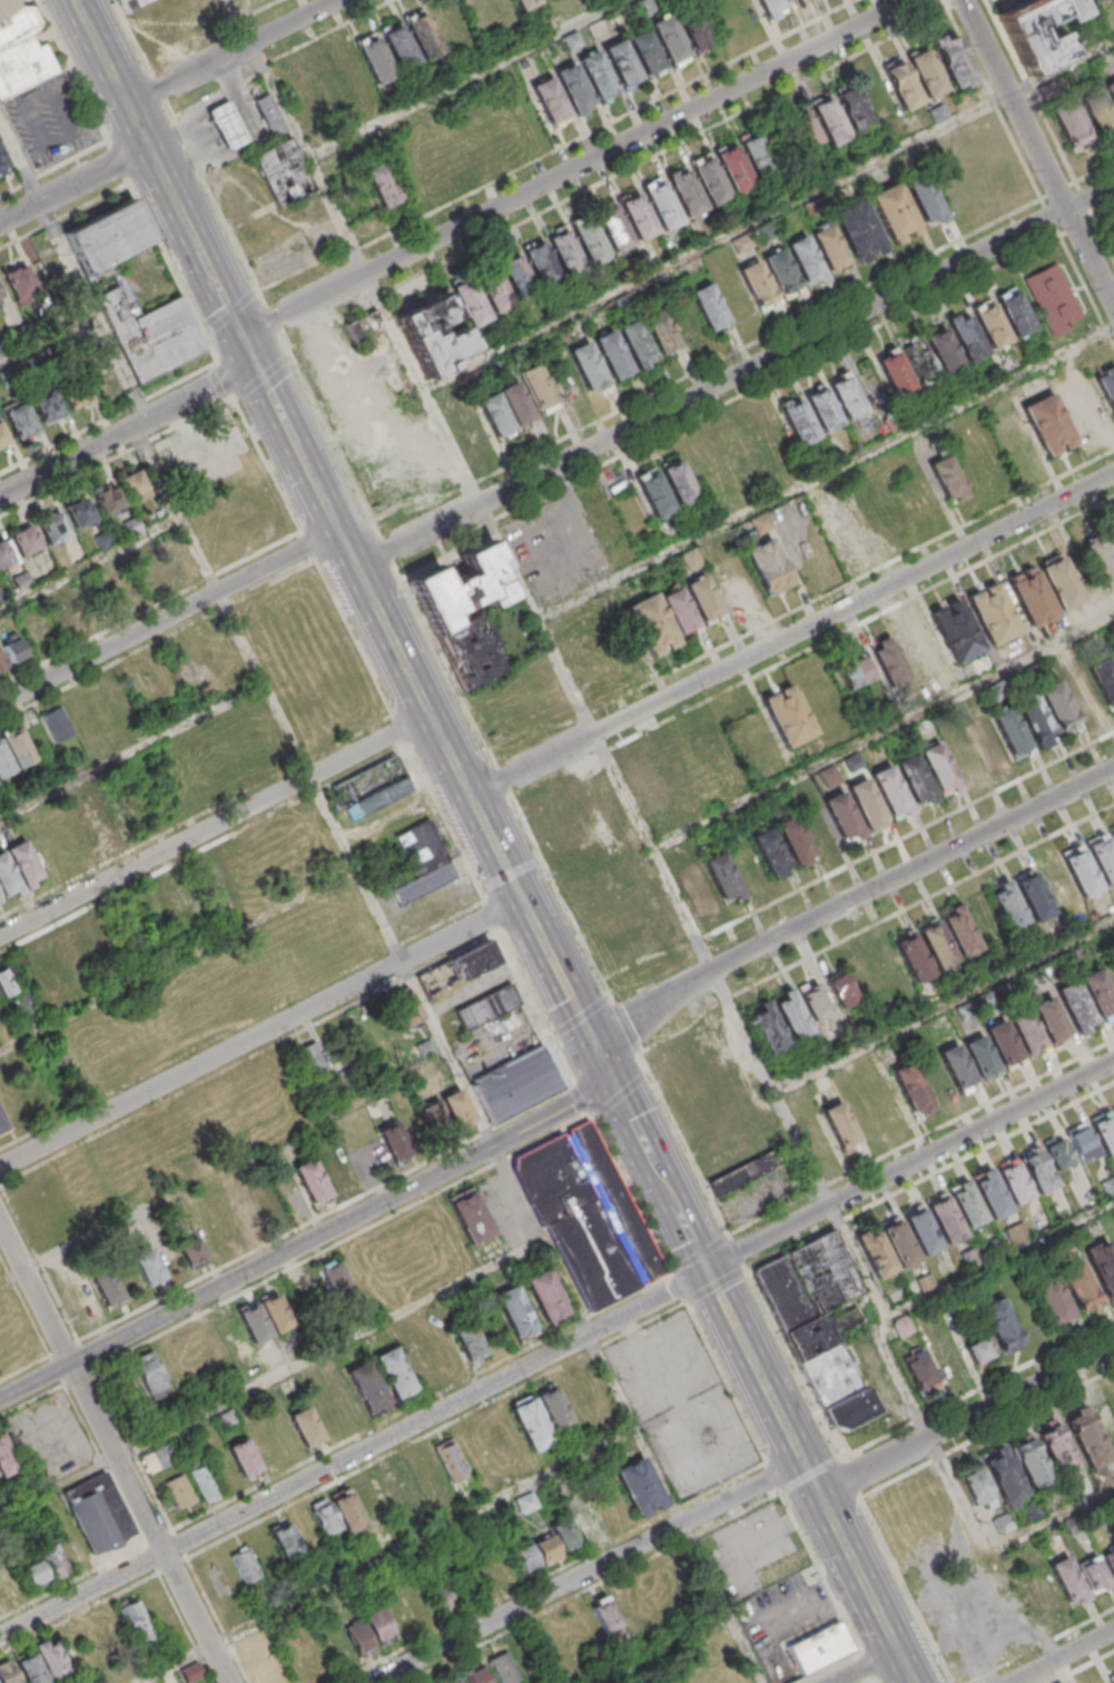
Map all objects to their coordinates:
building: (1095, 1)
building: (526, 4)
road: (946, 4)
road: (957, 4)
road: (258, 6)
building: (772, 8)
building: (1075, 9)
building: (497, 10)
road: (239, 14)
building: (167, 19)
road: (328, 30)
building: (696, 31)
building: (1034, 32)
road: (187, 36)
building: (424, 37)
road: (134, 38)
building: (670, 40)
building: (401, 49)
building: (21, 51)
road: (98, 51)
road: (226, 51)
building: (647, 55)
building: (375, 60)
building: (954, 61)
building: (622, 65)
road: (264, 66)
building: (927, 75)
building: (598, 76)
road: (707, 76)
road: (465, 77)
building: (326, 82)
building: (904, 87)
building: (574, 88)
road: (1032, 90)
building: (1110, 91)
road: (215, 93)
building: (551, 102)
building: (270, 116)
building: (831, 122)
building: (228, 126)
building: (1071, 126)
building: (806, 129)
road: (1038, 150)
road: (662, 152)
building: (759, 157)
building: (2, 165)
road: (55, 168)
road: (578, 168)
building: (736, 170)
building: (283, 171)
road: (1095, 173)
building: (711, 183)
building: (381, 184)
road: (72, 186)
building: (687, 194)
building: (927, 200)
building: (663, 208)
building: (896, 214)
road: (1104, 214)
road: (768, 216)
building: (638, 217)
road: (66, 218)
building: (613, 229)
building: (859, 230)
road: (1061, 237)
road: (1104, 238)
building: (590, 243)
building: (830, 248)
road: (355, 252)
building: (566, 254)
building: (807, 262)
road: (169, 264)
building: (541, 264)
road: (75, 270)
building: (517, 276)
building: (783, 276)
building: (20, 282)
building: (759, 287)
building: (493, 288)
road: (1086, 291)
building: (117, 292)
road: (851, 295)
building: (0, 296)
building: (1052, 297)
building: (469, 302)
building: (710, 309)
building: (1014, 312)
building: (990, 324)
building: (432, 334)
building: (21, 336)
building: (663, 336)
building: (966, 336)
road: (49, 342)
building: (638, 346)
building: (943, 348)
building: (2, 351)
building: (612, 355)
building: (918, 360)
building: (37, 365)
building: (588, 367)
building: (894, 372)
road: (735, 377)
building: (9, 378)
building: (1106, 384)
building: (538, 388)
building: (77, 394)
building: (846, 398)
road: (728, 403)
building: (46, 406)
building: (345, 409)
building: (505, 410)
building: (822, 410)
road: (108, 417)
building: (798, 422)
building: (20, 423)
building: (470, 426)
building: (1048, 426)
road: (128, 430)
building: (2, 439)
road: (117, 460)
road: (825, 473)
building: (947, 479)
building: (134, 485)
building: (666, 488)
building: (107, 500)
building: (79, 513)
building: (131, 524)
building: (761, 524)
building: (842, 526)
building: (52, 528)
building: (24, 541)
road: (308, 543)
building: (4, 552)
building: (1102, 561)
road: (89, 563)
road: (355, 567)
building: (769, 569)
building: (149, 577)
building: (730, 582)
building: (1061, 585)
building: (702, 599)
building: (1032, 601)
road: (220, 602)
building: (70, 613)
road: (168, 616)
building: (441, 616)
building: (992, 616)
building: (661, 621)
building: (955, 632)
road: (791, 634)
building: (13, 649)
building: (907, 653)
road: (443, 659)
building: (2, 663)
building: (854, 672)
building: (1104, 681)
building: (1083, 698)
building: (1058, 708)
building: (789, 718)
building: (1034, 720)
building: (57, 724)
road: (401, 727)
road: (883, 732)
building: (1011, 734)
building: (986, 744)
building: (18, 747)
road: (130, 749)
building: (714, 751)
building: (963, 756)
building: (4, 764)
building: (938, 769)
building: (914, 781)
building: (645, 787)
building: (890, 793)
building: (376, 798)
building: (866, 806)
building: (845, 819)
building: (106, 821)
road: (214, 825)
building: (818, 829)
building: (1113, 838)
building: (796, 844)
building: (420, 847)
building: (570, 854)
building: (771, 856)
road: (860, 858)
building: (1103, 862)
building: (22, 863)
building: (210, 873)
building: (1081, 875)
building: (7, 877)
building: (722, 878)
building: (423, 882)
building: (697, 888)
building: (170, 898)
road: (849, 898)
building: (0, 899)
building: (1033, 900)
road: (489, 905)
building: (1008, 912)
road: (874, 923)
building: (960, 935)
building: (87, 938)
building: (936, 943)
building: (911, 956)
building: (46, 961)
road: (179, 961)
building: (462, 968)
road: (716, 970)
building: (862, 972)
building: (8, 981)
building: (842, 991)
building: (1097, 995)
building: (22, 1004)
building: (817, 1005)
road: (944, 1005)
building: (486, 1006)
building: (404, 1007)
building: (1075, 1007)
building: (795, 1020)
building: (1051, 1022)
building: (767, 1027)
traffic signals: (586, 1032)
road: (259, 1033)
building: (1026, 1034)
building: (1003, 1046)
building: (425, 1049)
road: (599, 1056)
building: (310, 1059)
building: (980, 1060)
building: (957, 1070)
traffic signals: (612, 1082)
building: (515, 1084)
building: (911, 1091)
building: (1113, 1113)
building: (445, 1114)
building: (3, 1126)
building: (839, 1128)
building: (1104, 1135)
road: (921, 1138)
building: (394, 1140)
building: (1083, 1145)
building: (1057, 1155)
road: (910, 1165)
road: (224, 1169)
building: (321, 1175)
building: (1038, 1175)
road: (659, 1177)
road: (930, 1177)
building: (1014, 1185)
building: (992, 1200)
building: (270, 1203)
building: (967, 1208)
building: (249, 1215)
building: (471, 1217)
building: (589, 1217)
building: (946, 1224)
road: (535, 1229)
building: (923, 1237)
road: (306, 1240)
building: (886, 1248)
building: (191, 1252)
road: (739, 1252)
building: (148, 1267)
building: (1102, 1269)
building: (333, 1277)
building: (809, 1280)
building: (924, 1282)
building: (1078, 1287)
building: (109, 1288)
building: (545, 1295)
building: (1053, 1302)
building: (515, 1312)
building: (264, 1317)
building: (1000, 1325)
building: (903, 1327)
building: (469, 1341)
road: (331, 1350)
building: (978, 1350)
building: (919, 1370)
building: (149, 1371)
building: (393, 1371)
building: (366, 1385)
building: (837, 1387)
road: (1023, 1390)
parking lot: (683, 1405)
building: (553, 1409)
building: (226, 1419)
building: (530, 1423)
building: (305, 1426)
building: (1088, 1441)
road: (114, 1451)
building: (1057, 1451)
road: (354, 1454)
building: (4, 1457)
building: (243, 1458)
building: (158, 1459)
building: (450, 1459)
building: (1031, 1464)
road: (876, 1466)
road: (849, 1473)
road: (812, 1477)
building: (1005, 1480)
building: (205, 1483)
building: (639, 1487)
road: (59, 1488)
building: (977, 1488)
building: (388, 1489)
building: (178, 1492)
building: (525, 1504)
building: (336, 1512)
building: (99, 1516)
building: (585, 1524)
building: (285, 1541)
building: (545, 1547)
road: (993, 1551)
road: (392, 1556)
building: (1110, 1562)
building: (245, 1564)
building: (45, 1566)
building: (782, 1569)
road: (588, 1571)
building: (1094, 1575)
building: (1067, 1582)
building: (1043, 1594)
building: (442, 1596)
road: (1029, 1603)
building: (604, 1614)
building: (135, 1621)
building: (378, 1627)
road: (1041, 1646)
building: (819, 1647)
road: (668, 1650)
building: (50, 1657)
road: (1063, 1657)
building: (296, 1660)
road: (867, 1666)
building: (503, 1667)
road: (1083, 1667)
building: (30, 1669)
road: (1064, 1671)
building: (8, 1672)
building: (190, 1672)
building: (476, 1675)
building: (1113, 1681)
building: (454, 1682)
building: (1058, 1682)

